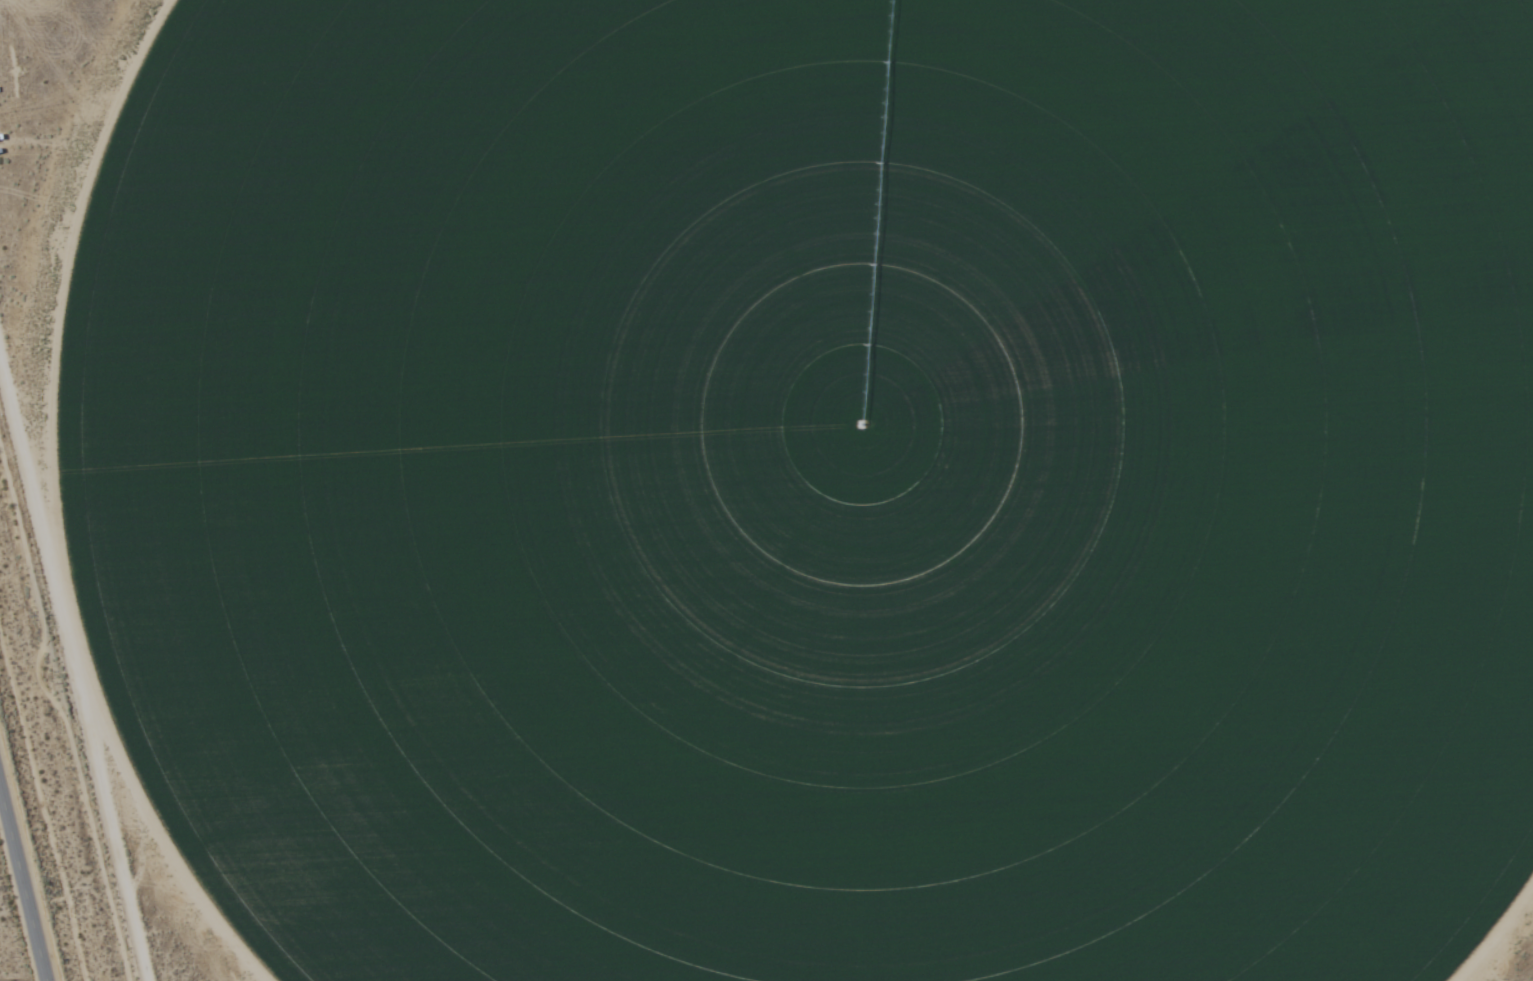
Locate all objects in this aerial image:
building: (261, 427)
building: (433, 457)
crop: (803, 482)
building: (330, 532)
building: (647, 538)
building: (319, 574)
road: (23, 884)

